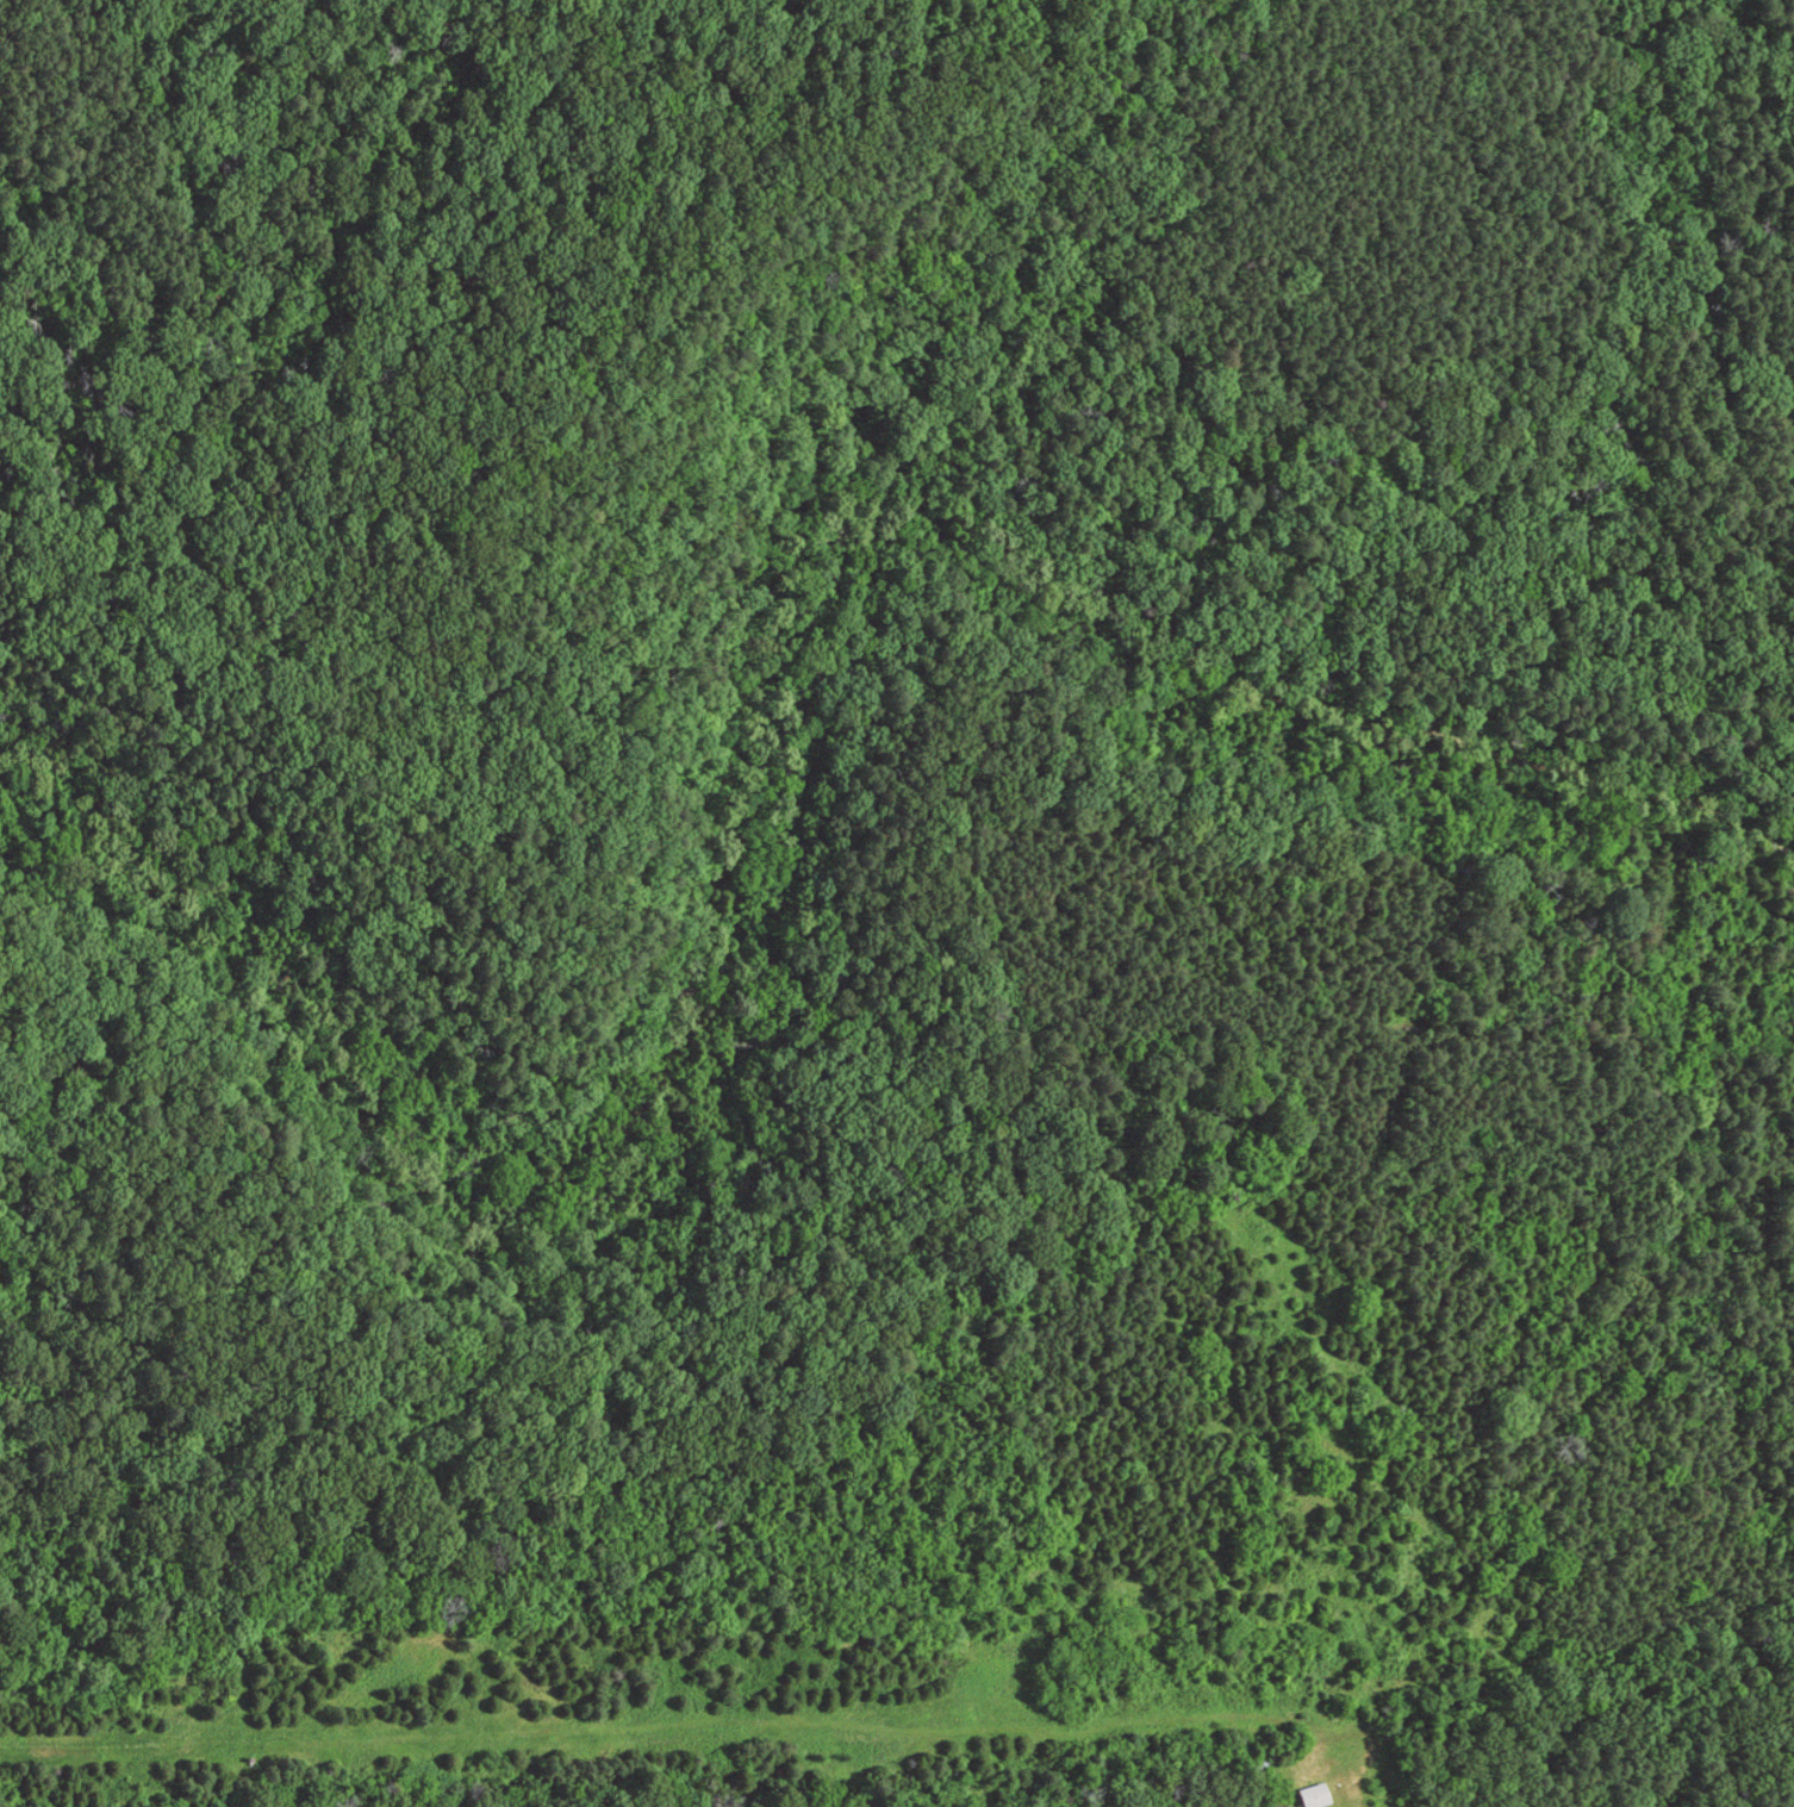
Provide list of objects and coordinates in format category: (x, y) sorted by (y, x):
road: (1559, 1651)
building: (1315, 1794)

